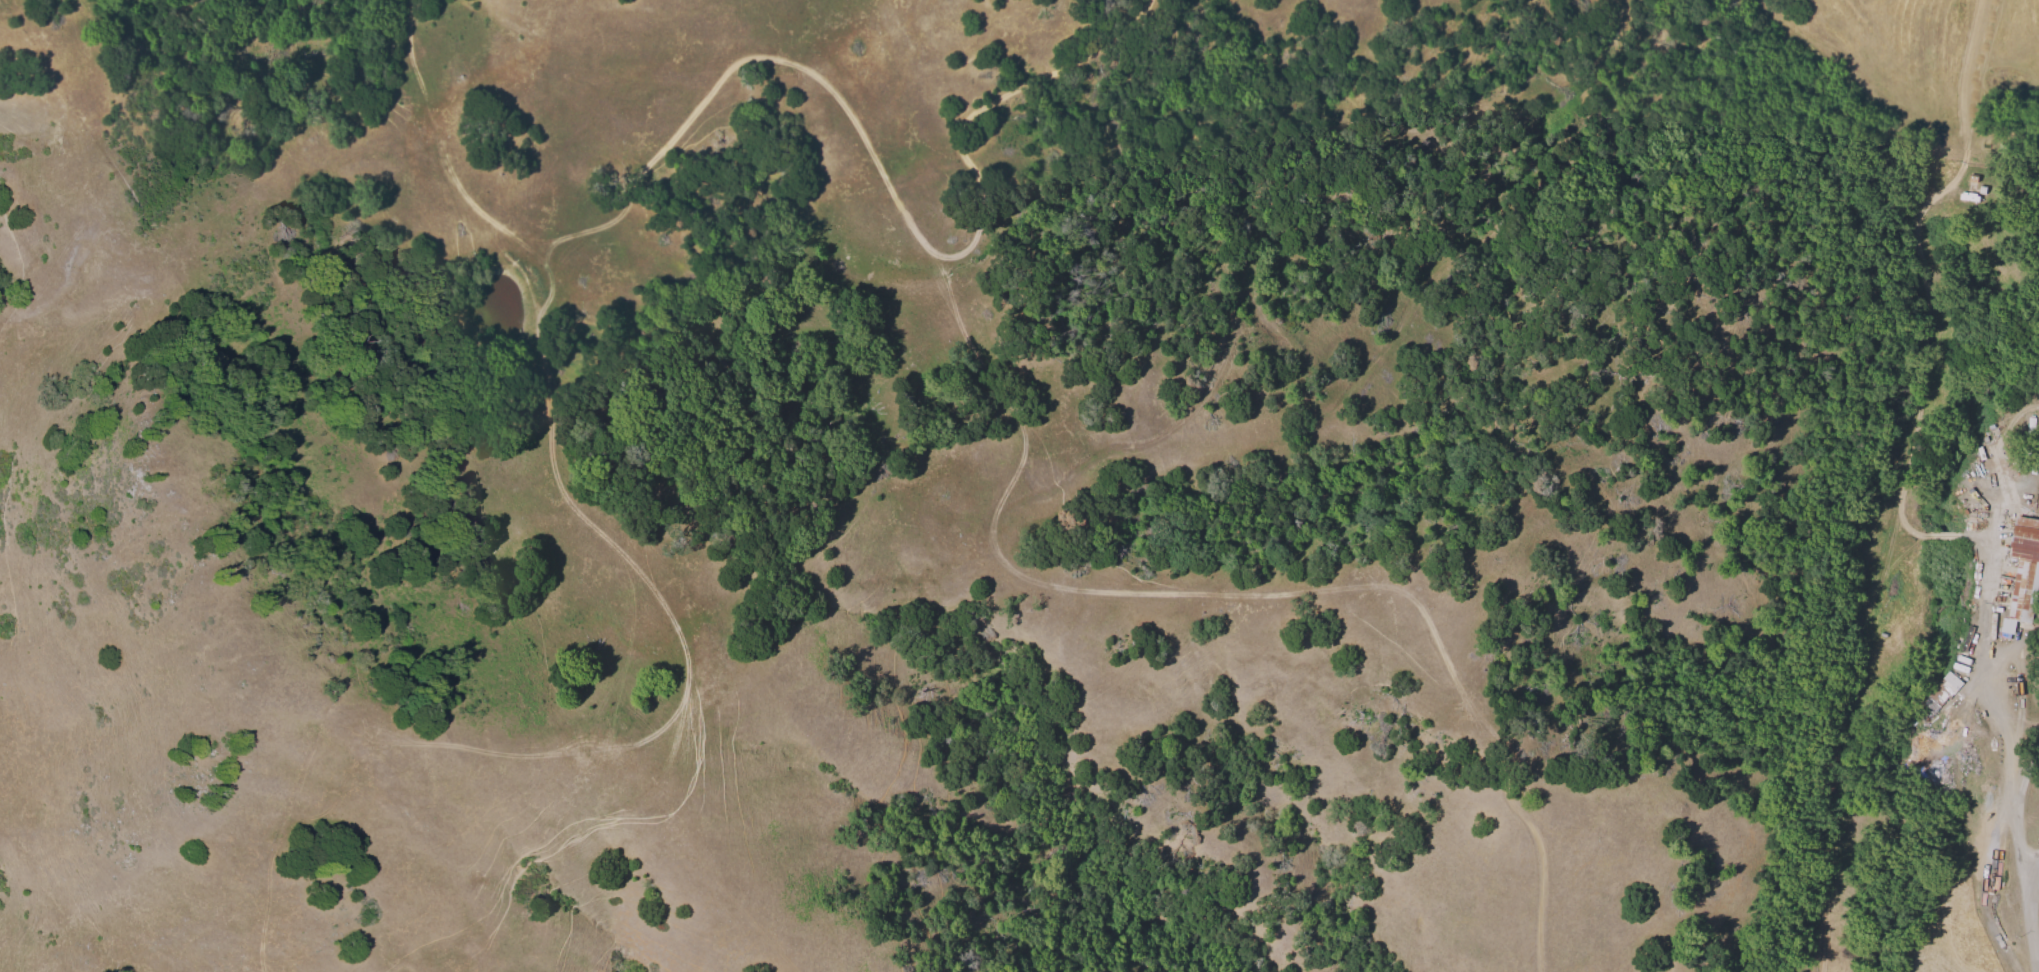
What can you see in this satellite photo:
building: (1979, 453)
crop: (1933, 553)
building: (2022, 572)
road: (1984, 601)
road: (2020, 680)
building: (1941, 691)
road: (2012, 816)
road: (2030, 919)

